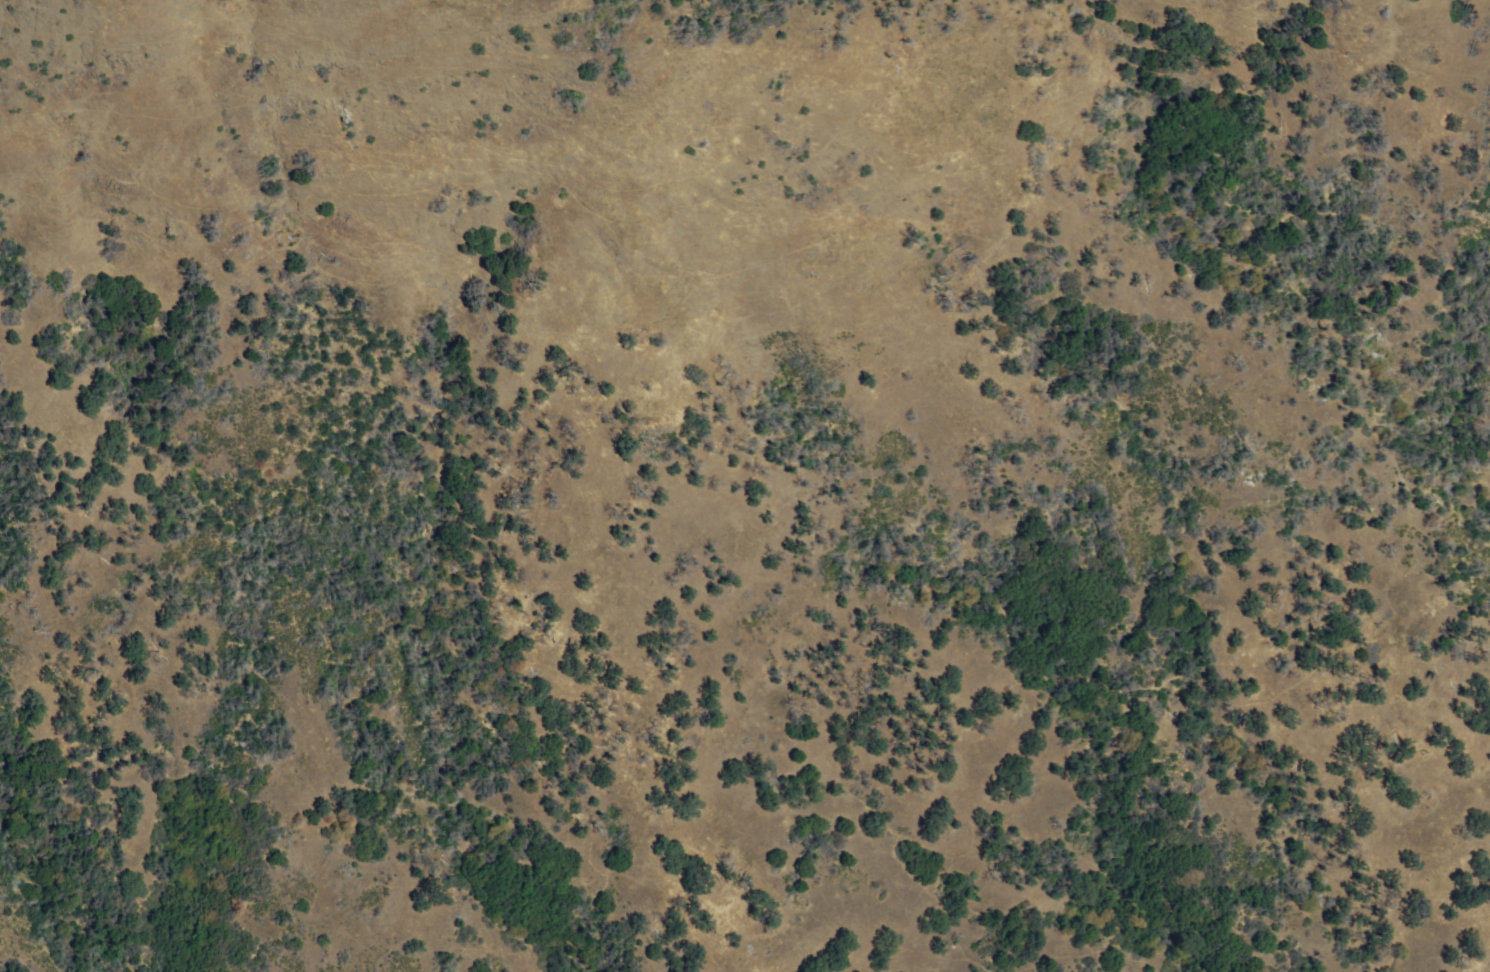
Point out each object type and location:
road: (531, 244)
road: (1340, 636)

